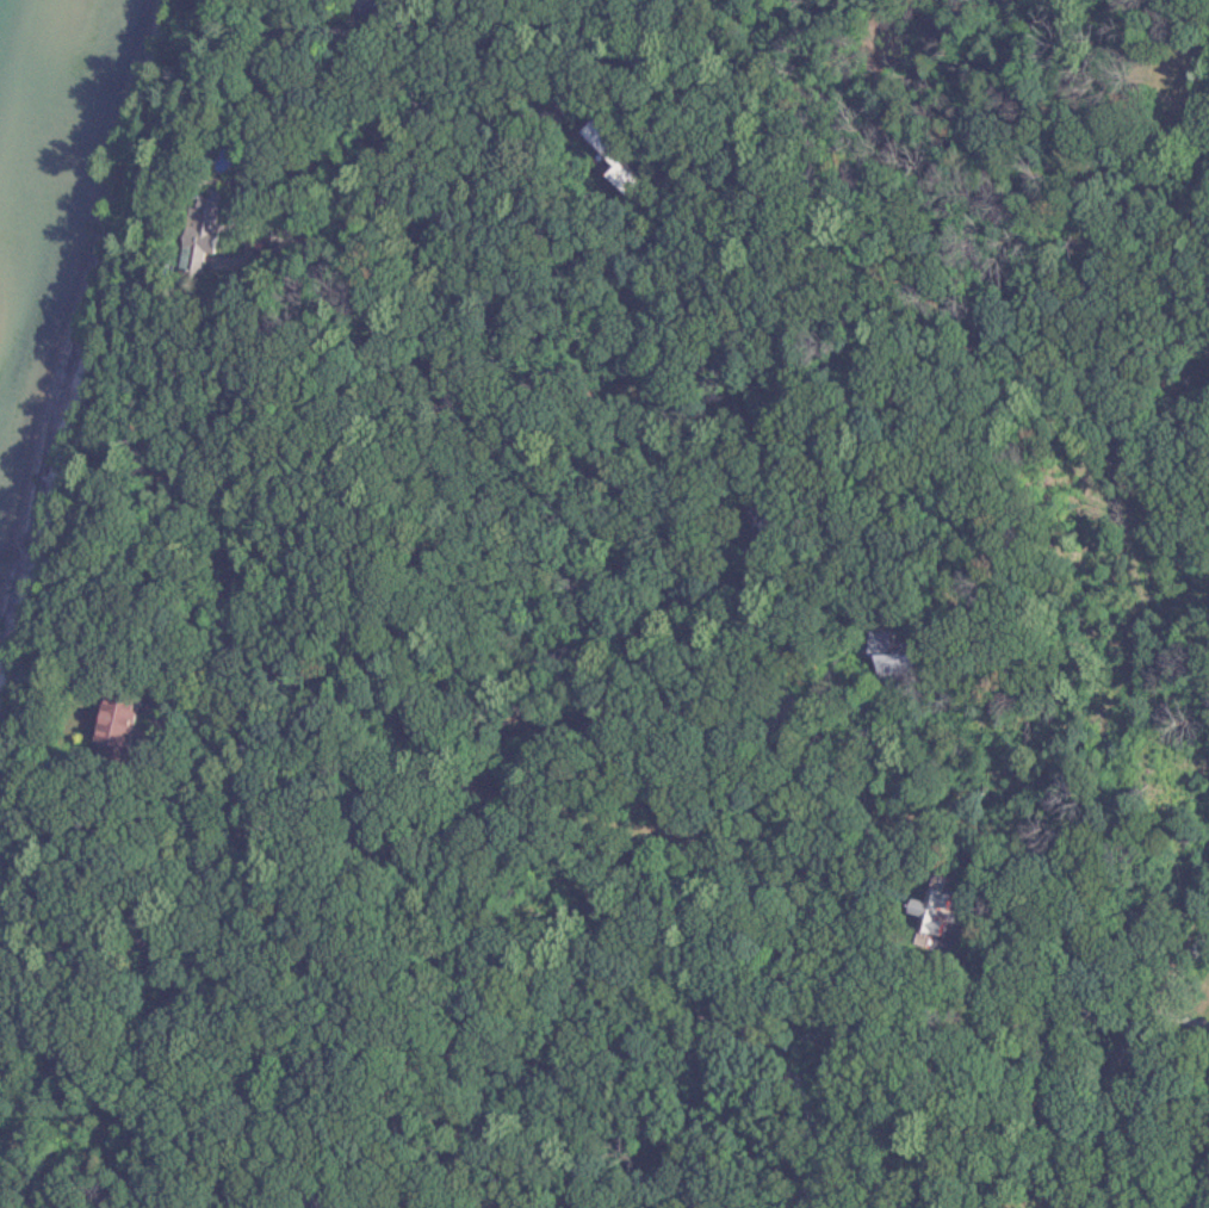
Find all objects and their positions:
road: (161, 111)
road: (283, 265)
road: (619, 612)
road: (482, 686)
road: (651, 700)
building: (114, 711)
road: (361, 745)
road: (218, 818)
road: (51, 837)
building: (930, 910)
road: (1017, 1027)
road: (1172, 1053)
road: (1124, 1064)
road: (66, 1200)

